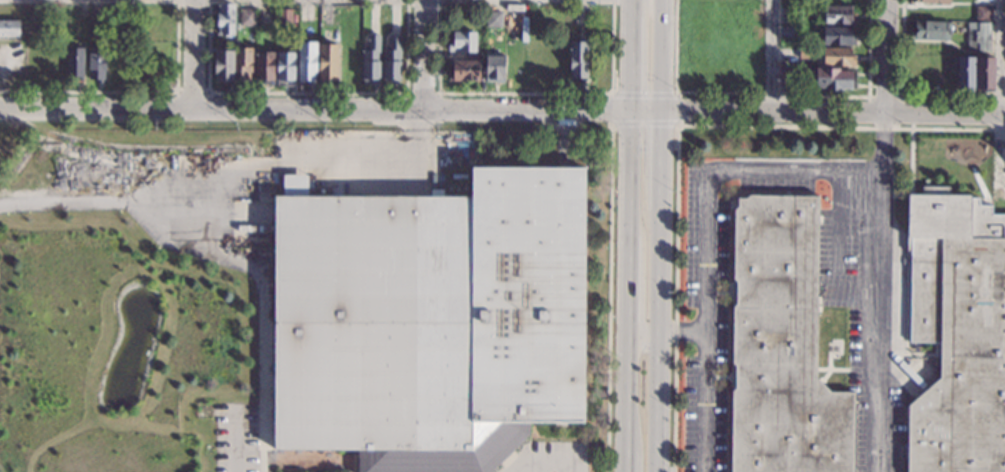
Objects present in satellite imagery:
building: (842, 1)
building: (932, 2)
building: (983, 13)
building: (97, 16)
building: (263, 16)
building: (284, 16)
building: (838, 16)
building: (247, 17)
building: (225, 19)
building: (494, 20)
road: (648, 22)
building: (156, 24)
building: (9, 28)
building: (930, 31)
building: (786, 32)
building: (837, 36)
building: (977, 37)
building: (462, 43)
park: (146, 49)
road: (425, 54)
road: (772, 55)
road: (885, 55)
road: (195, 56)
building: (837, 57)
building: (370, 60)
building: (391, 60)
building: (577, 60)
building: (306, 61)
building: (75, 62)
building: (328, 62)
building: (536, 62)
building: (54, 63)
building: (243, 63)
building: (34, 64)
building: (96, 64)
building: (223, 66)
building: (264, 66)
building: (285, 68)
building: (493, 69)
building: (464, 71)
building: (964, 73)
building: (984, 73)
road: (647, 77)
building: (787, 78)
building: (834, 80)
road: (644, 90)
road: (135, 93)
road: (774, 93)
road: (1003, 93)
road: (193, 94)
road: (309, 95)
road: (424, 95)
road: (525, 96)
road: (900, 97)
road: (903, 98)
road: (611, 107)
road: (676, 107)
road: (322, 110)
road: (825, 111)
road: (643, 124)
road: (675, 133)
road: (563, 139)
road: (646, 143)
road: (882, 143)
road: (910, 160)
road: (231, 178)
road: (1002, 189)
road: (709, 199)
road: (837, 222)
building: (939, 247)
road: (611, 297)
building: (428, 319)
road: (647, 322)
road: (880, 323)
building: (780, 346)
building: (965, 366)
road: (707, 402)
road: (238, 441)
road: (555, 466)
road: (645, 470)

